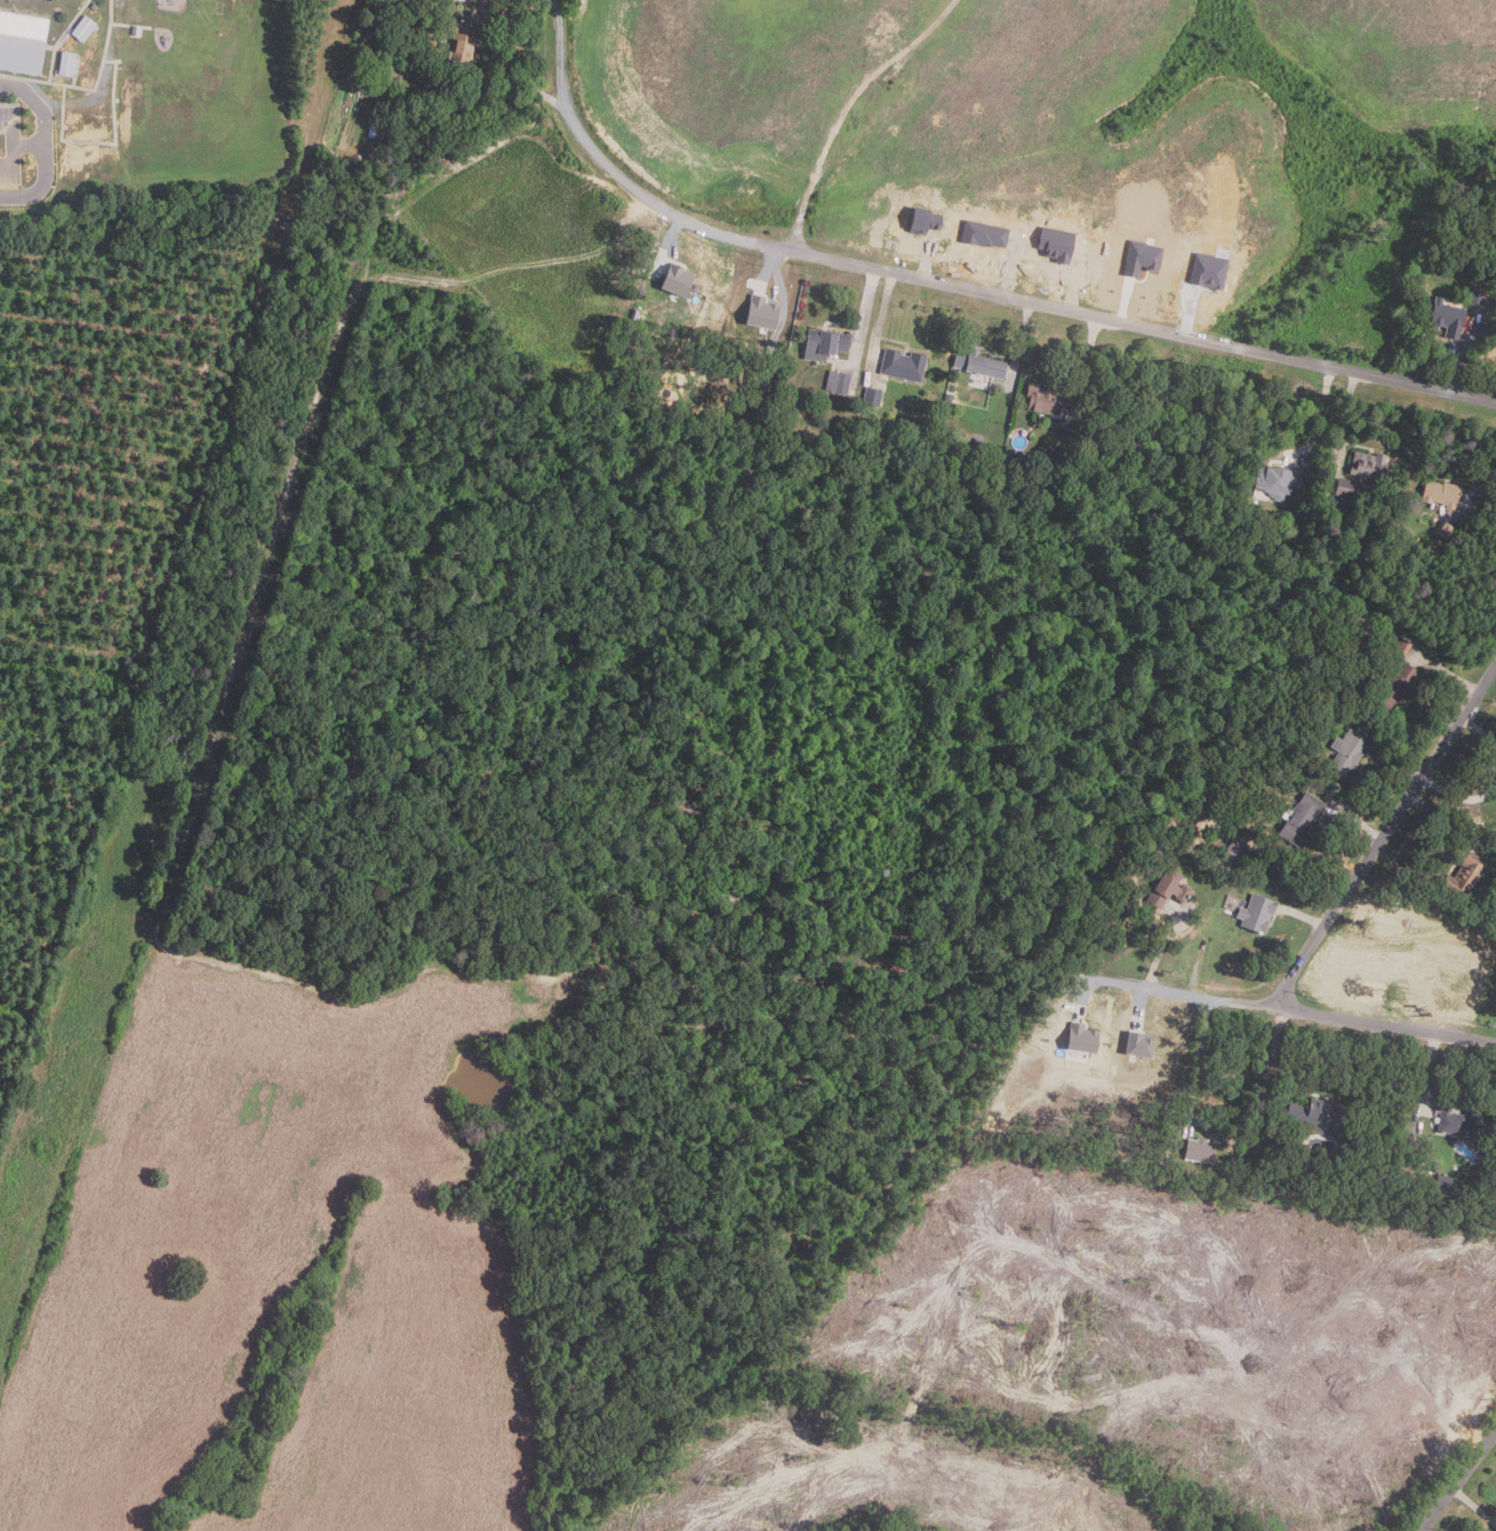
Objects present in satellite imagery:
building: (95, 6)
building: (85, 29)
building: (463, 38)
building: (23, 42)
building: (69, 64)
road: (504, 67)
building: (380, 131)
parking lot: (10, 145)
road: (13, 145)
road: (29, 145)
road: (46, 145)
building: (927, 221)
building: (984, 233)
road: (671, 241)
building: (1056, 243)
building: (1142, 258)
road: (775, 260)
road: (926, 260)
road: (1012, 264)
building: (1490, 271)
building: (1210, 272)
building: (680, 279)
road: (1077, 282)
road: (954, 286)
building: (1478, 298)
road: (1125, 303)
building: (764, 311)
road: (1192, 314)
road: (864, 316)
road: (881, 317)
building: (1448, 319)
building: (827, 343)
road: (1024, 343)
building: (982, 363)
building: (905, 364)
road: (1095, 367)
road: (1451, 374)
building: (840, 380)
building: (874, 395)
building: (950, 396)
building: (1053, 399)
road: (1323, 409)
building: (1080, 436)
building: (832, 438)
building: (980, 443)
building: (1061, 459)
building: (1371, 466)
building: (1279, 479)
building: (1346, 488)
building: (1443, 492)
road: (1482, 493)
building: (1446, 529)
building: (1295, 542)
building: (1353, 613)
building: (1399, 646)
road: (1447, 672)
building: (1392, 686)
road: (1479, 729)
building: (1344, 752)
road: (1398, 763)
building: (1216, 776)
road: (1460, 795)
building: (1298, 818)
road: (1357, 821)
road: (1447, 822)
road: (1385, 832)
building: (1230, 851)
building: (1254, 867)
building: (1462, 875)
building: (1170, 888)
building: (1254, 913)
road: (1304, 916)
road: (1166, 948)
road: (1090, 990)
road: (1141, 1005)
road: (1304, 1005)
building: (1084, 1039)
building: (1143, 1048)
road: (1272, 1054)
road: (1200, 1061)
road: (1429, 1068)
building: (1320, 1113)
building: (1455, 1118)
building: (1202, 1150)
building: (1435, 1166)
building: (1441, 1184)
road: (1459, 1481)

